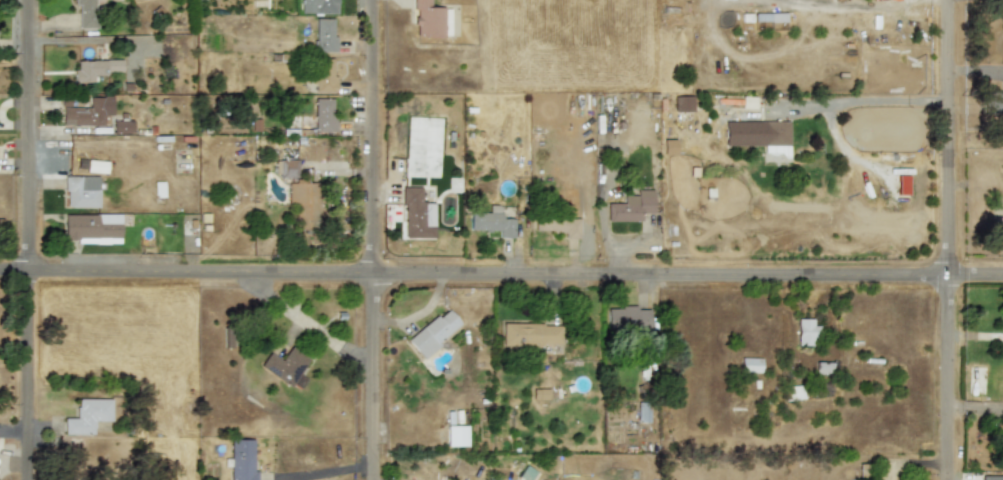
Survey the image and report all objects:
building: (318, 6)
building: (85, 13)
building: (427, 19)
building: (324, 35)
building: (95, 68)
building: (324, 75)
road: (857, 101)
building: (993, 102)
building: (683, 103)
building: (87, 112)
building: (323, 115)
building: (122, 127)
building: (758, 135)
building: (669, 147)
building: (96, 166)
building: (285, 167)
building: (81, 191)
building: (303, 206)
building: (630, 207)
building: (1002, 211)
building: (416, 214)
building: (1002, 217)
building: (491, 222)
building: (558, 225)
building: (91, 228)
road: (951, 239)
road: (26, 240)
road: (369, 240)
road: (501, 276)
building: (627, 318)
building: (804, 331)
building: (433, 333)
building: (530, 335)
building: (750, 364)
building: (286, 367)
road: (977, 406)
building: (87, 416)
building: (457, 436)
building: (241, 460)
road: (316, 472)
building: (527, 473)
building: (992, 477)

